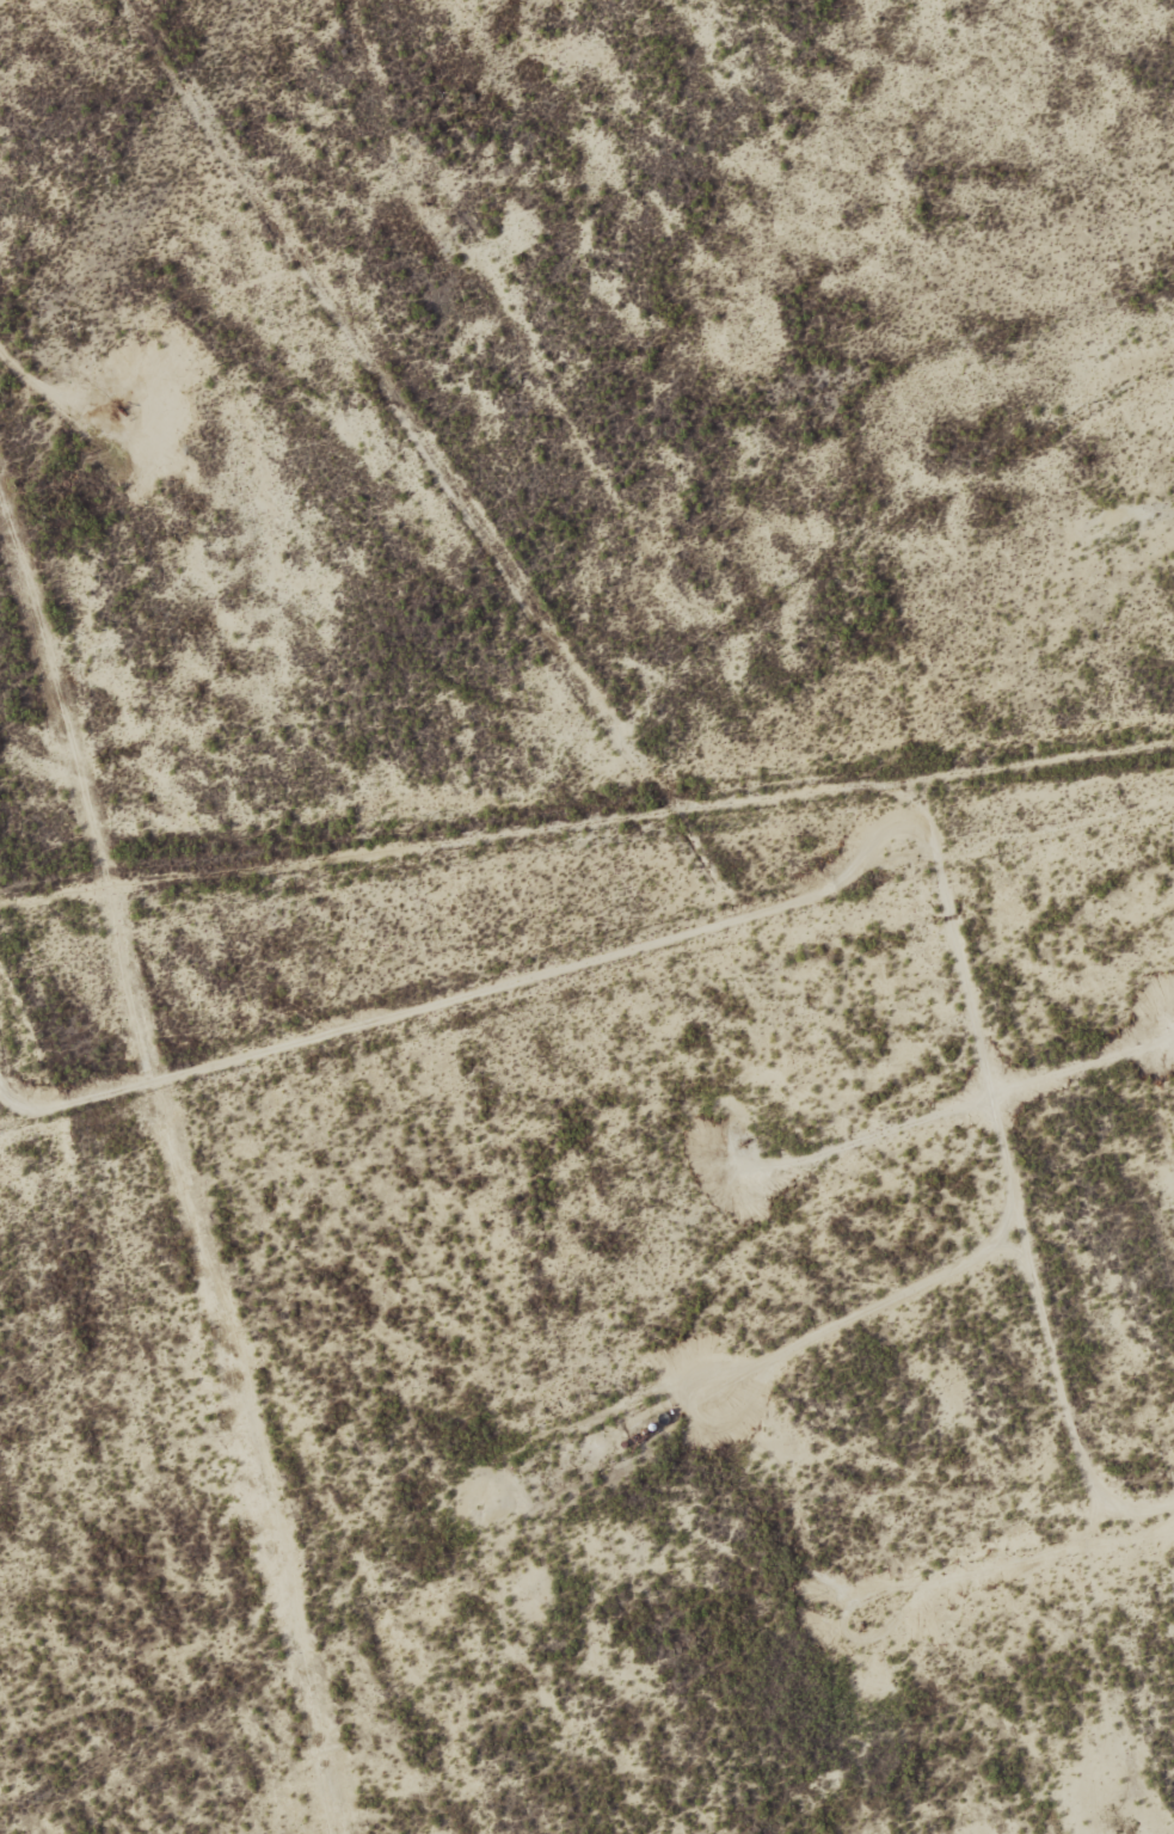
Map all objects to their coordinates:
road: (543, 611)
road: (316, 859)
road: (1014, 1174)
road: (1151, 1545)

